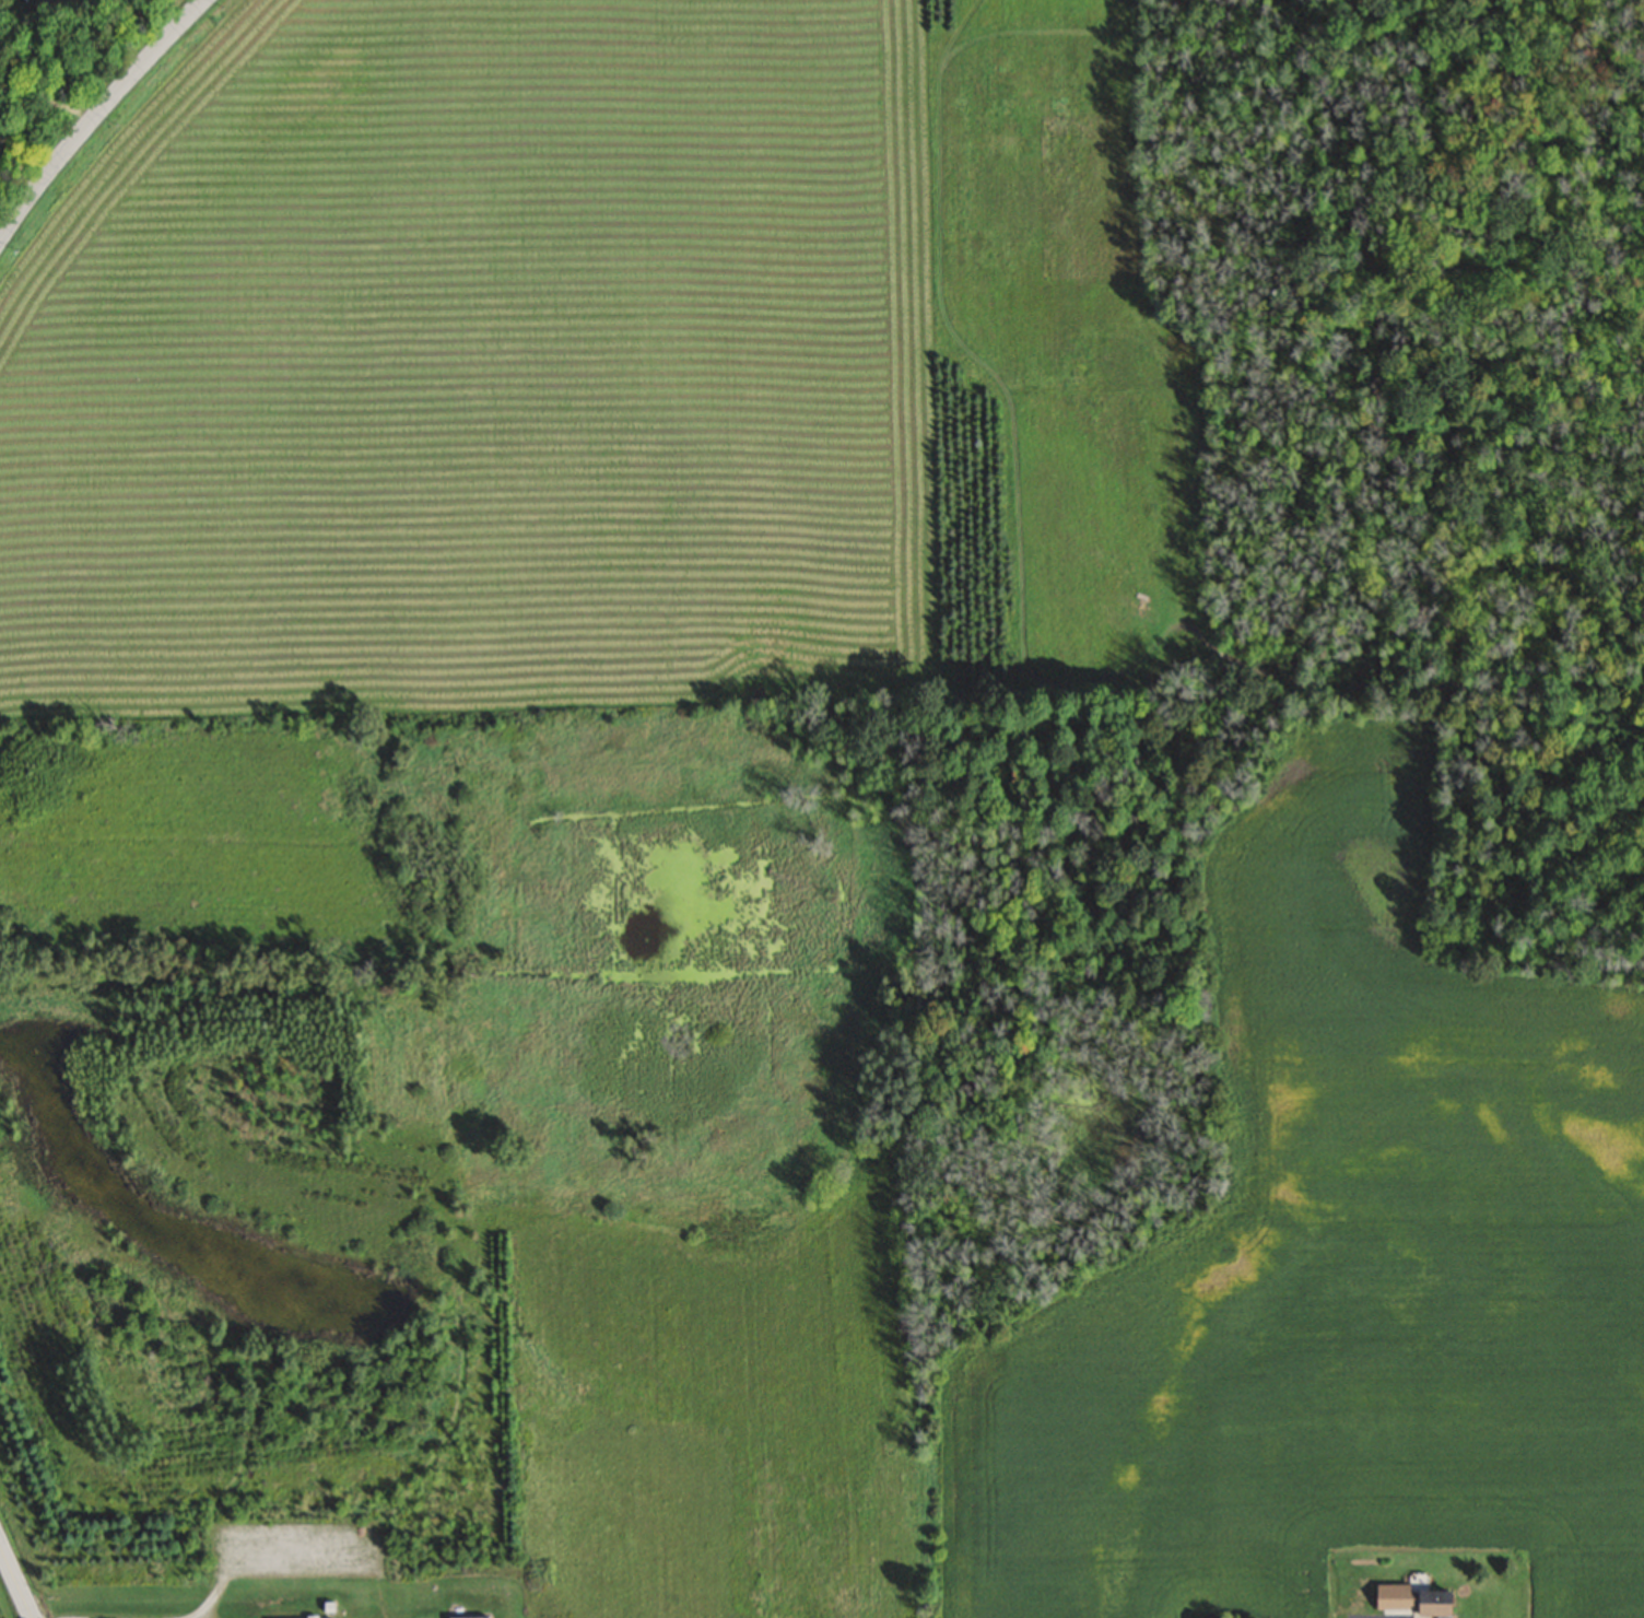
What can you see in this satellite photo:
road: (96, 115)
road: (15, 1582)
building: (1413, 1599)
building: (466, 1616)

